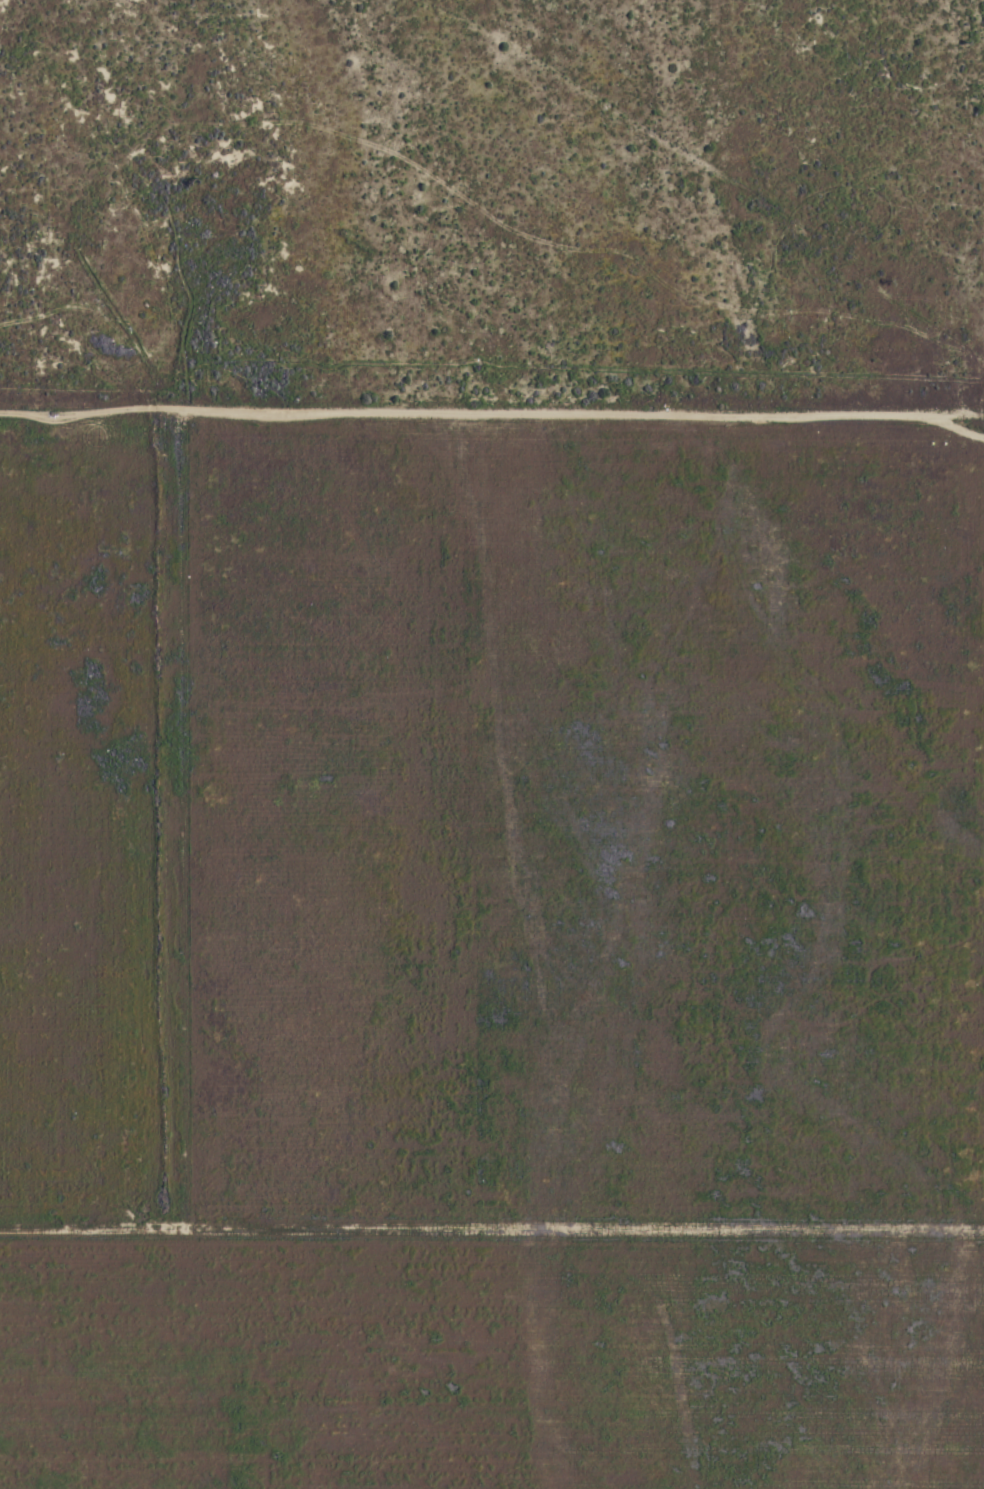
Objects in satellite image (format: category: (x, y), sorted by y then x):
road: (492, 412)
crop: (490, 1358)

